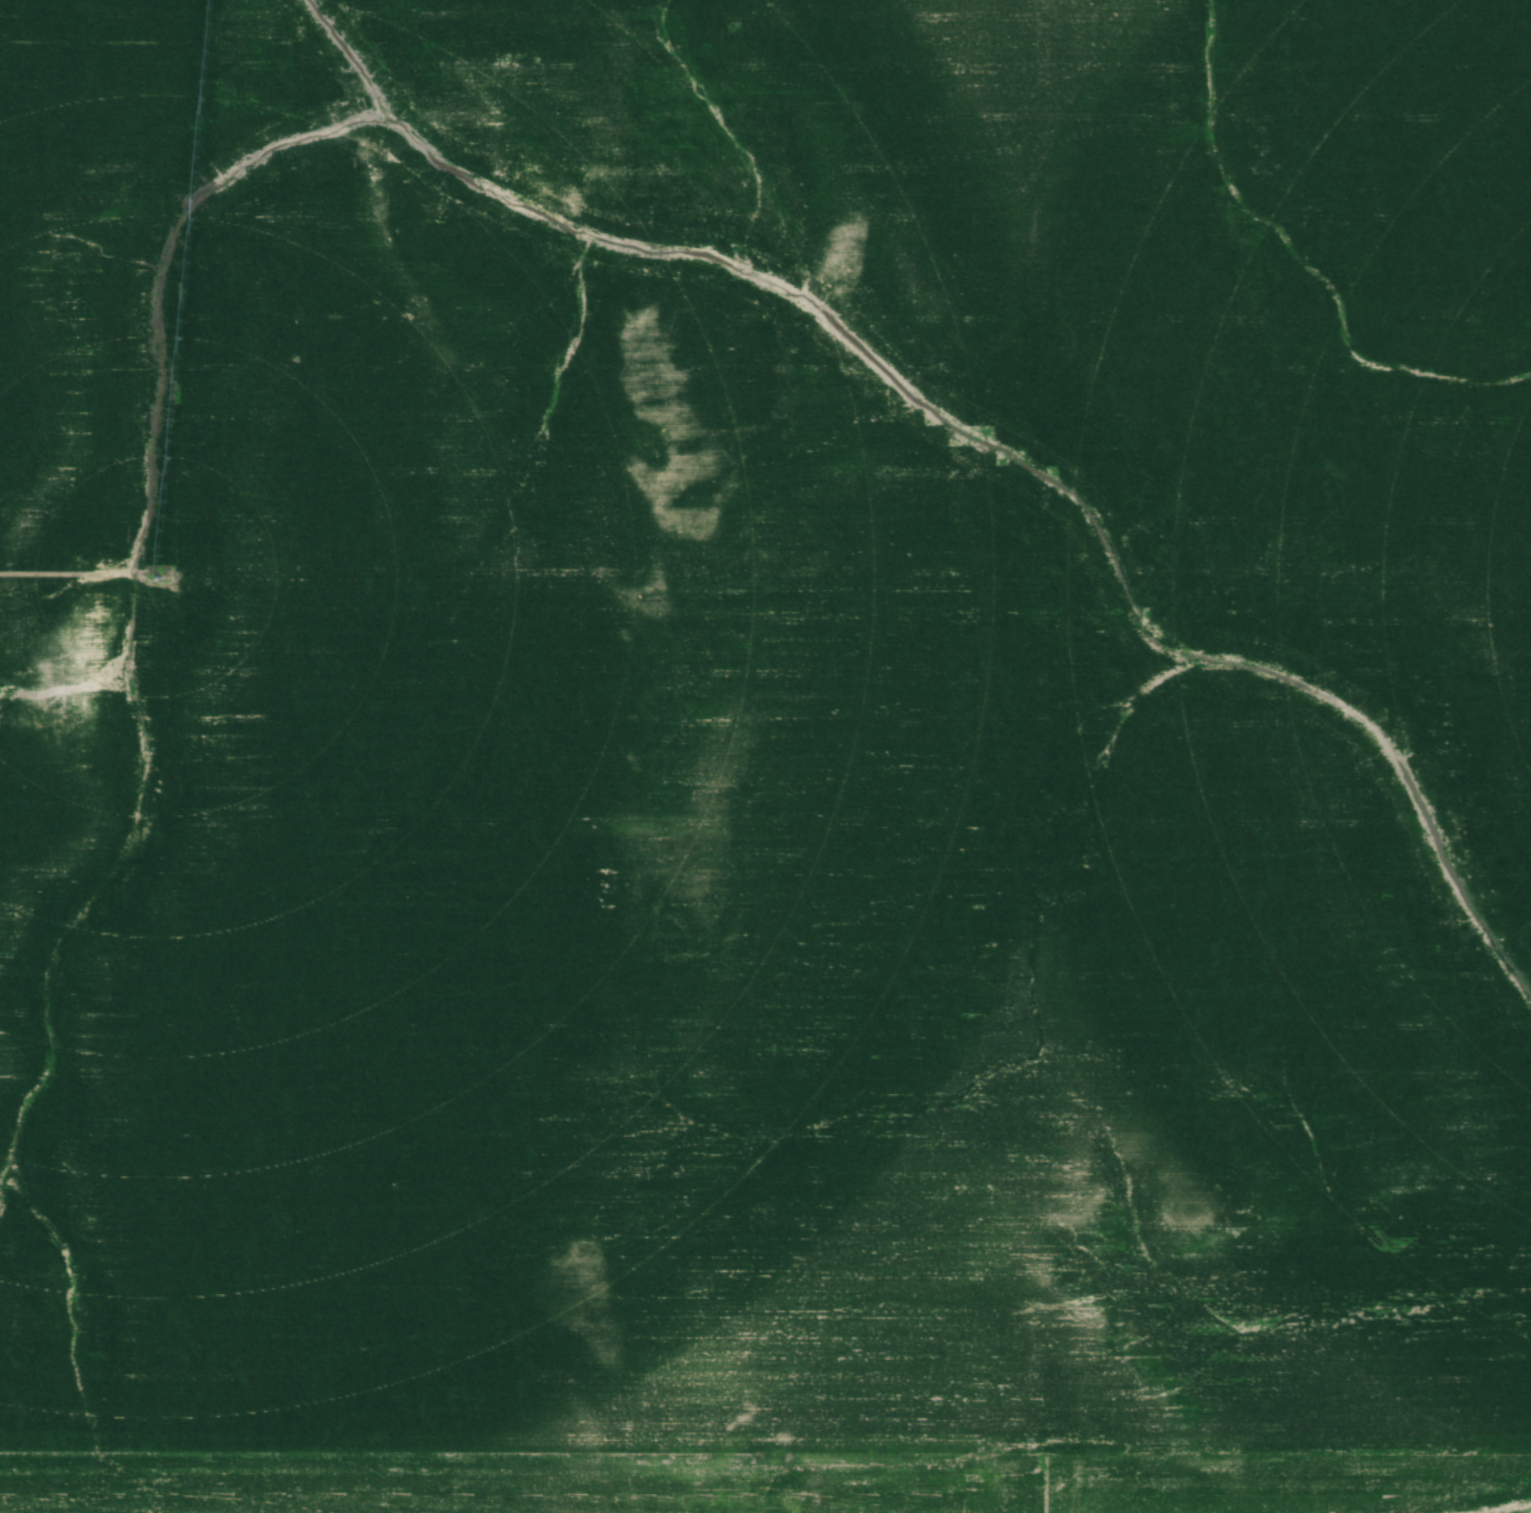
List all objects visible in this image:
building: (1193, 484)
building: (1034, 560)
building: (683, 631)
building: (780, 700)

